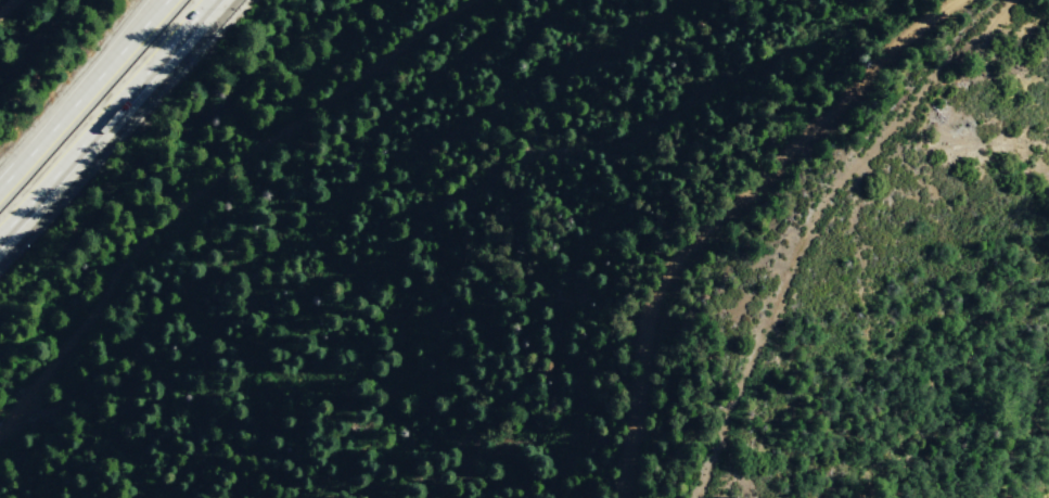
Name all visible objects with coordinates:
road: (82, 92)
road: (105, 117)
road: (220, 165)
road: (720, 212)

